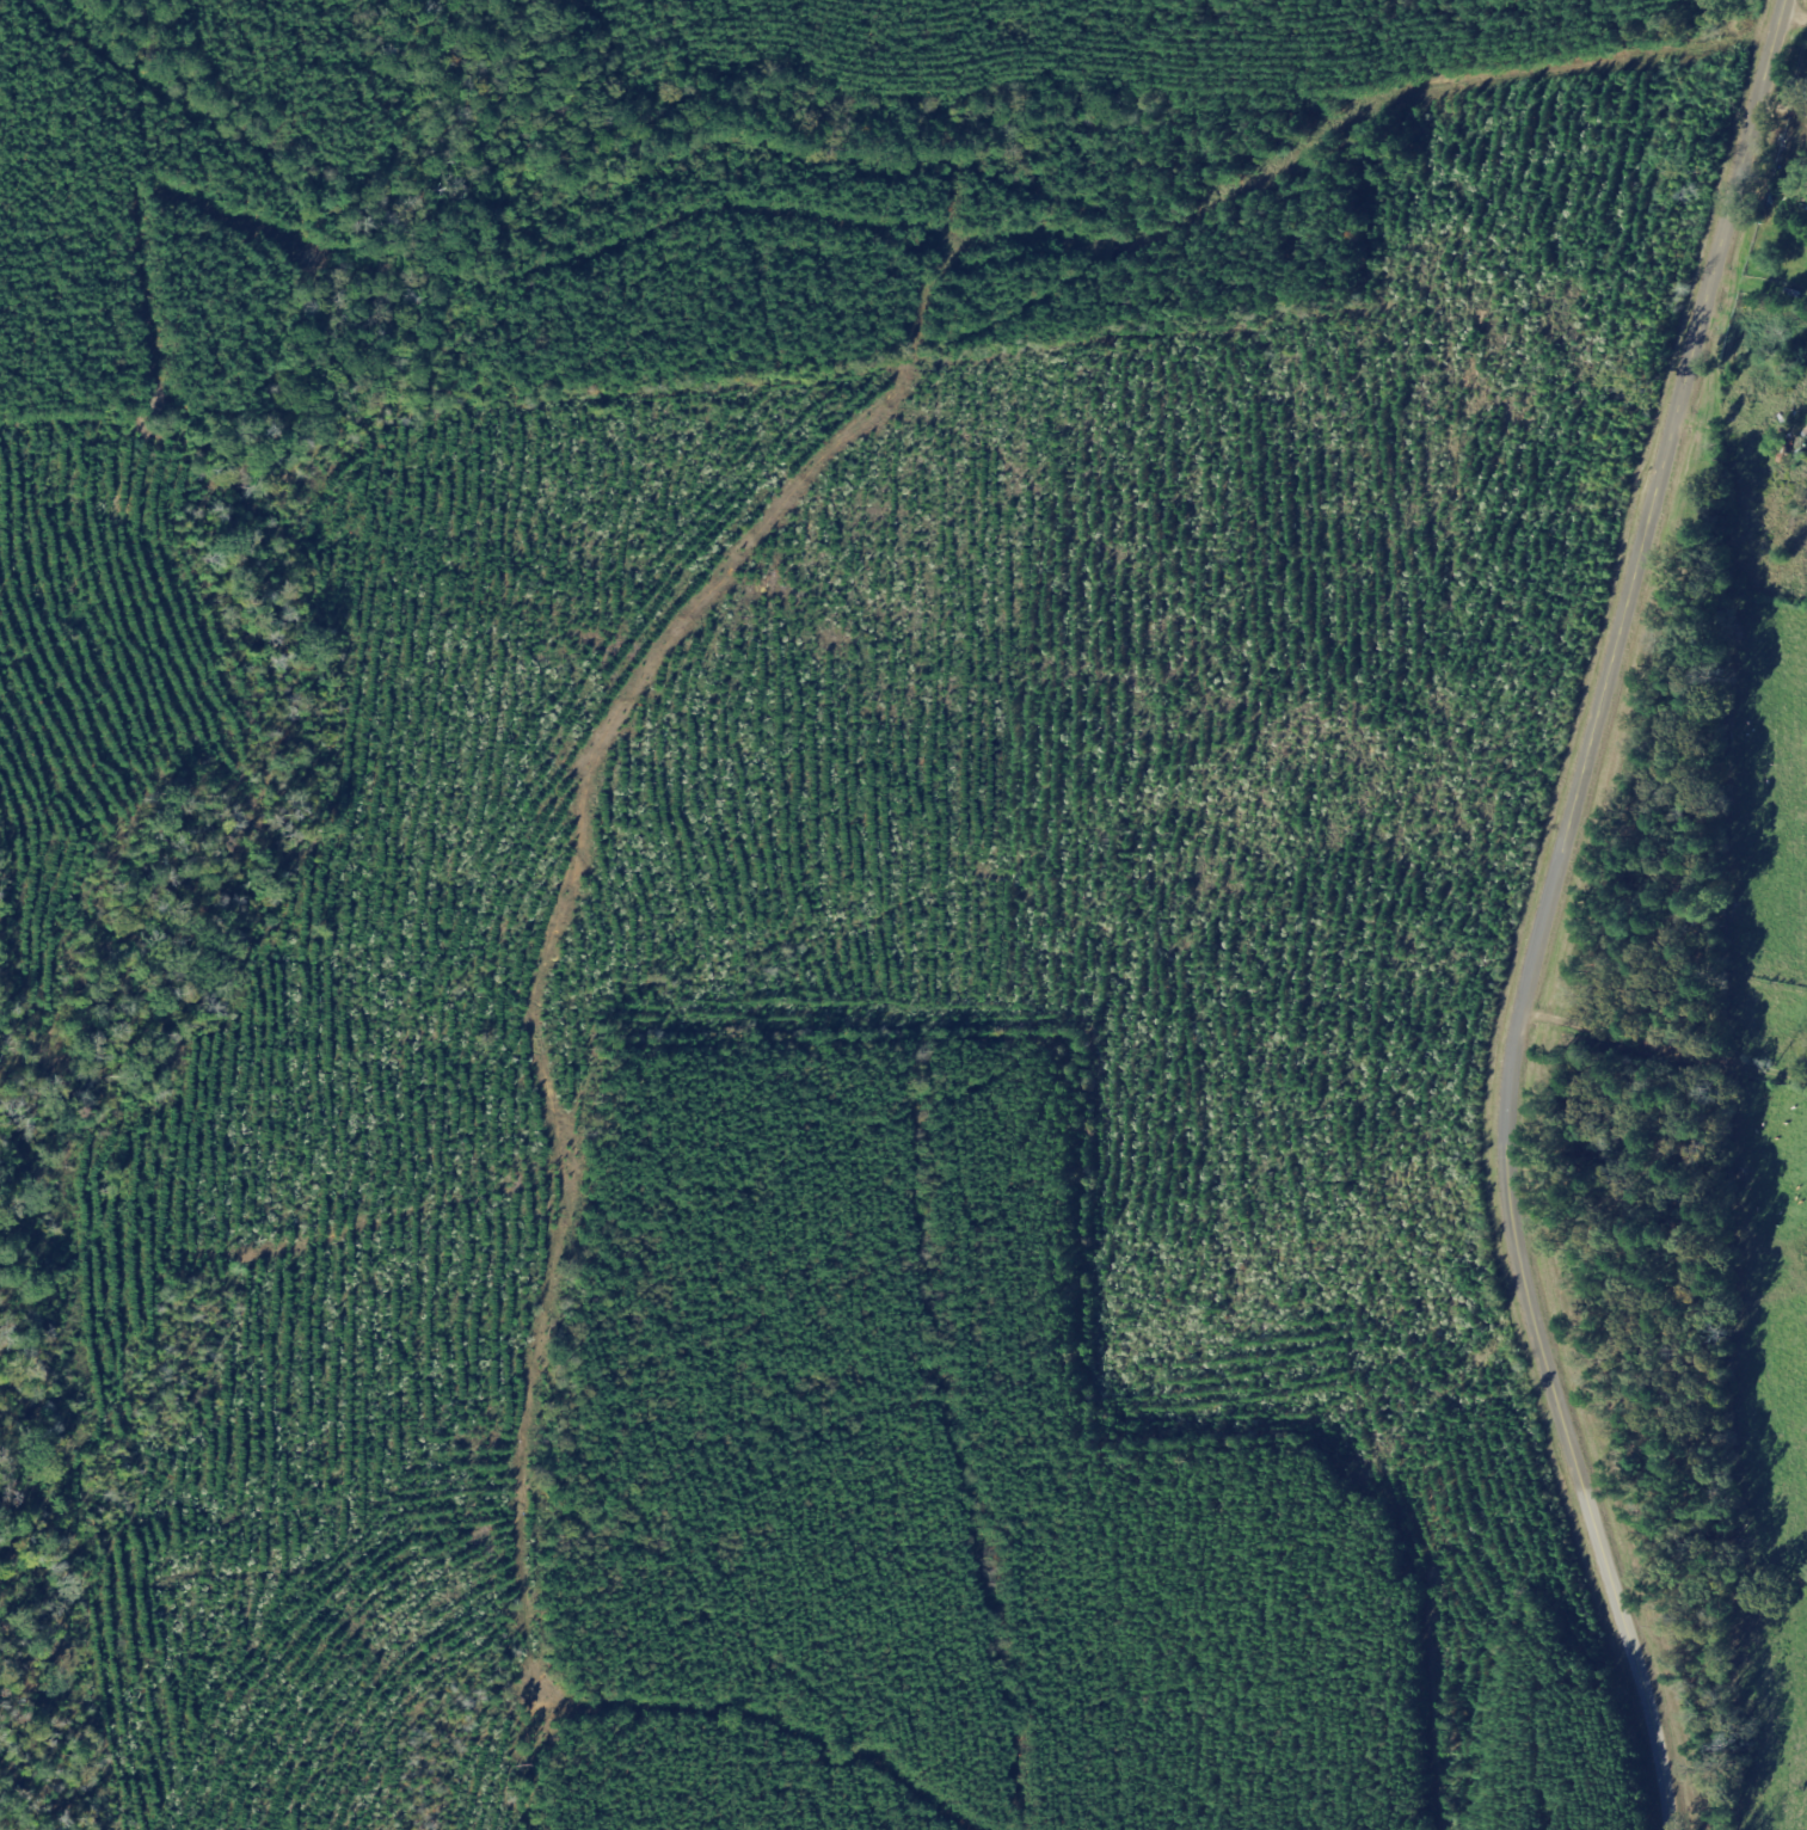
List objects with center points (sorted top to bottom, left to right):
road: (1796, 38)
road: (1544, 911)

